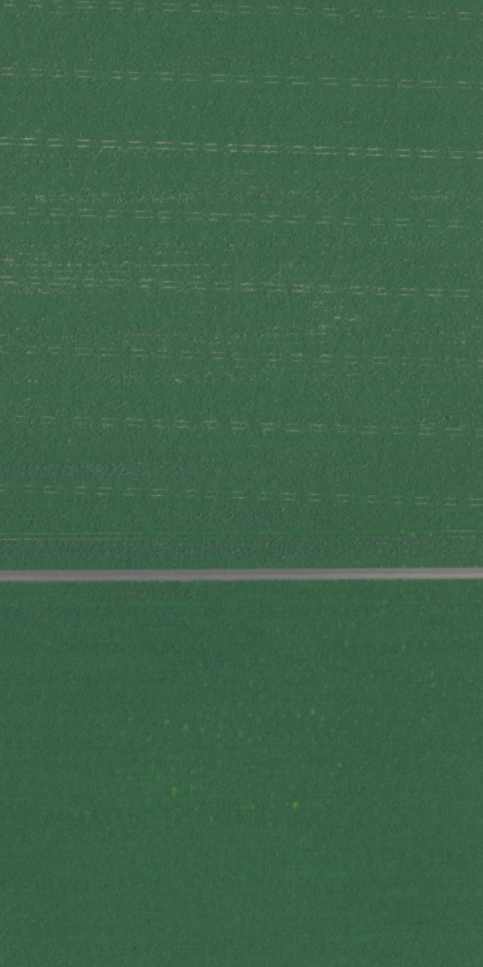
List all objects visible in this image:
road: (241, 582)

